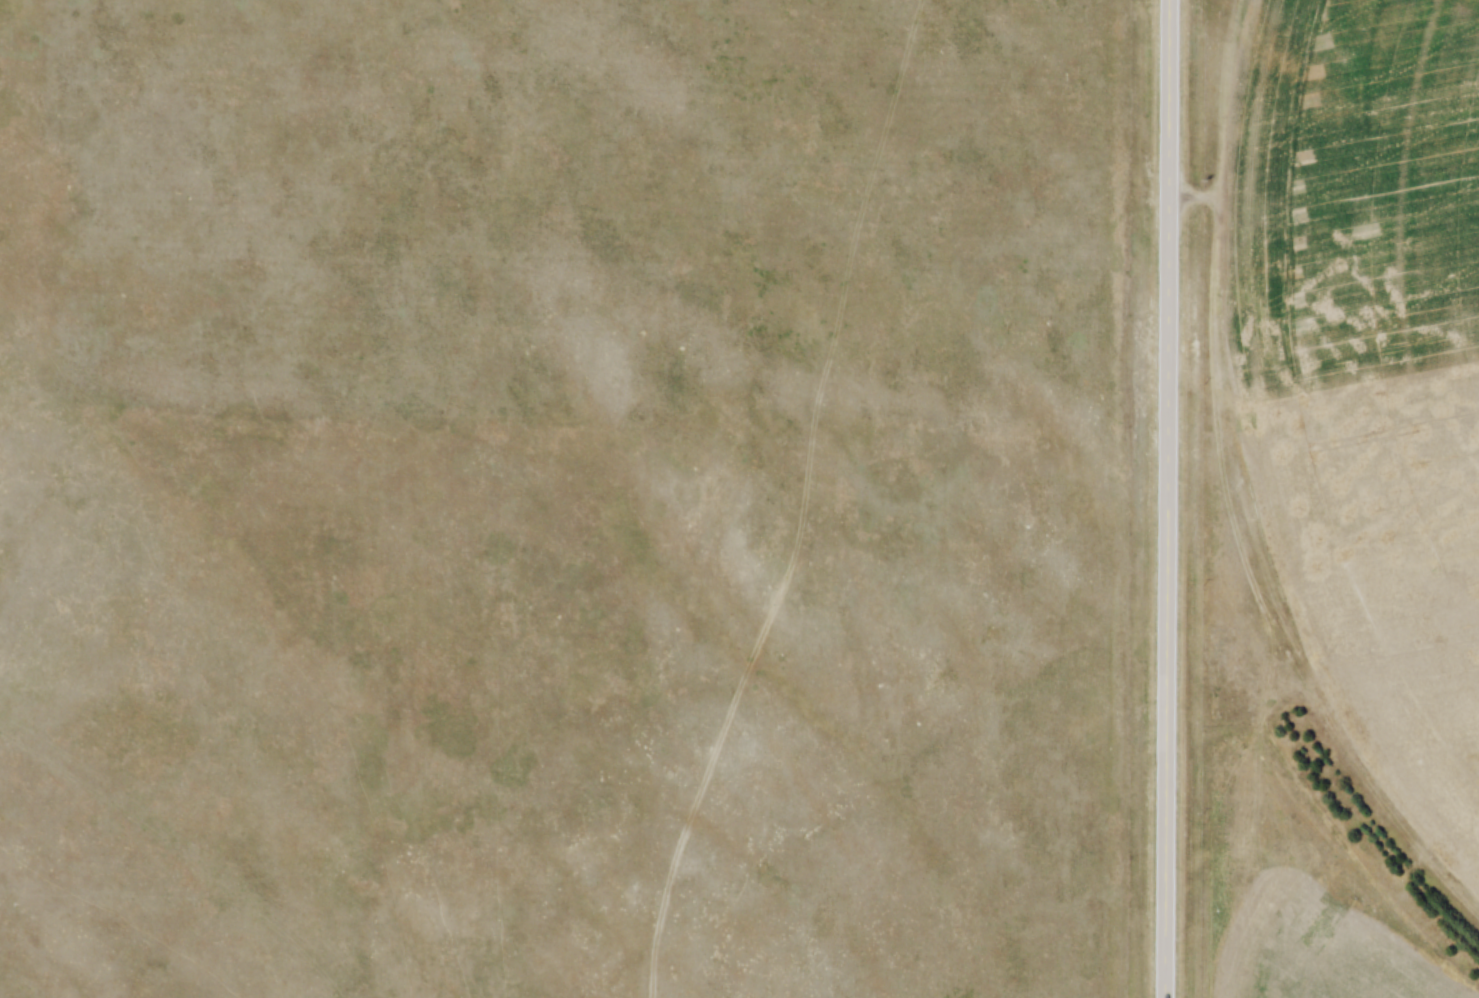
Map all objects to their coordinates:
crop: (1371, 362)
road: (1163, 499)

